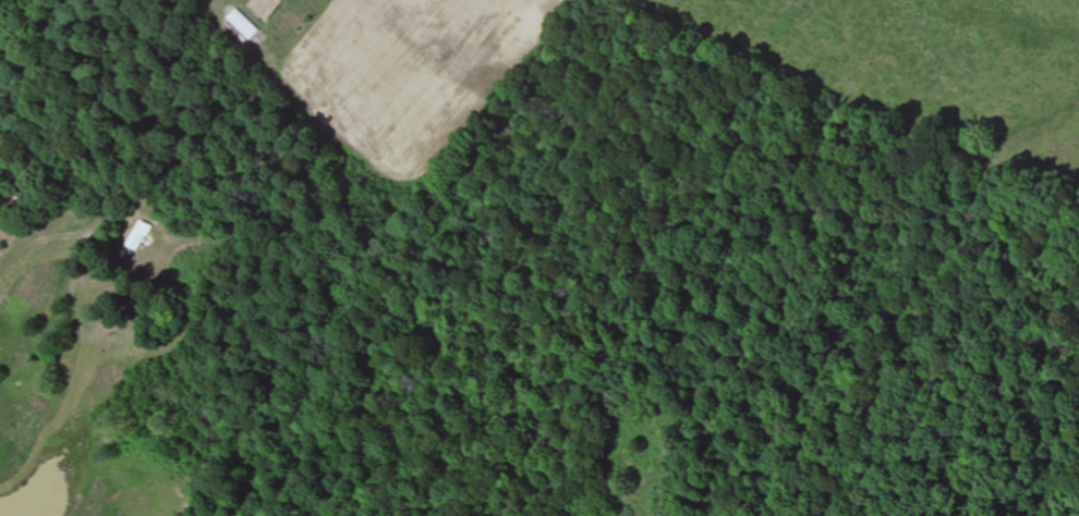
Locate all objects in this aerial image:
building: (242, 25)
road: (360, 93)
building: (137, 236)

